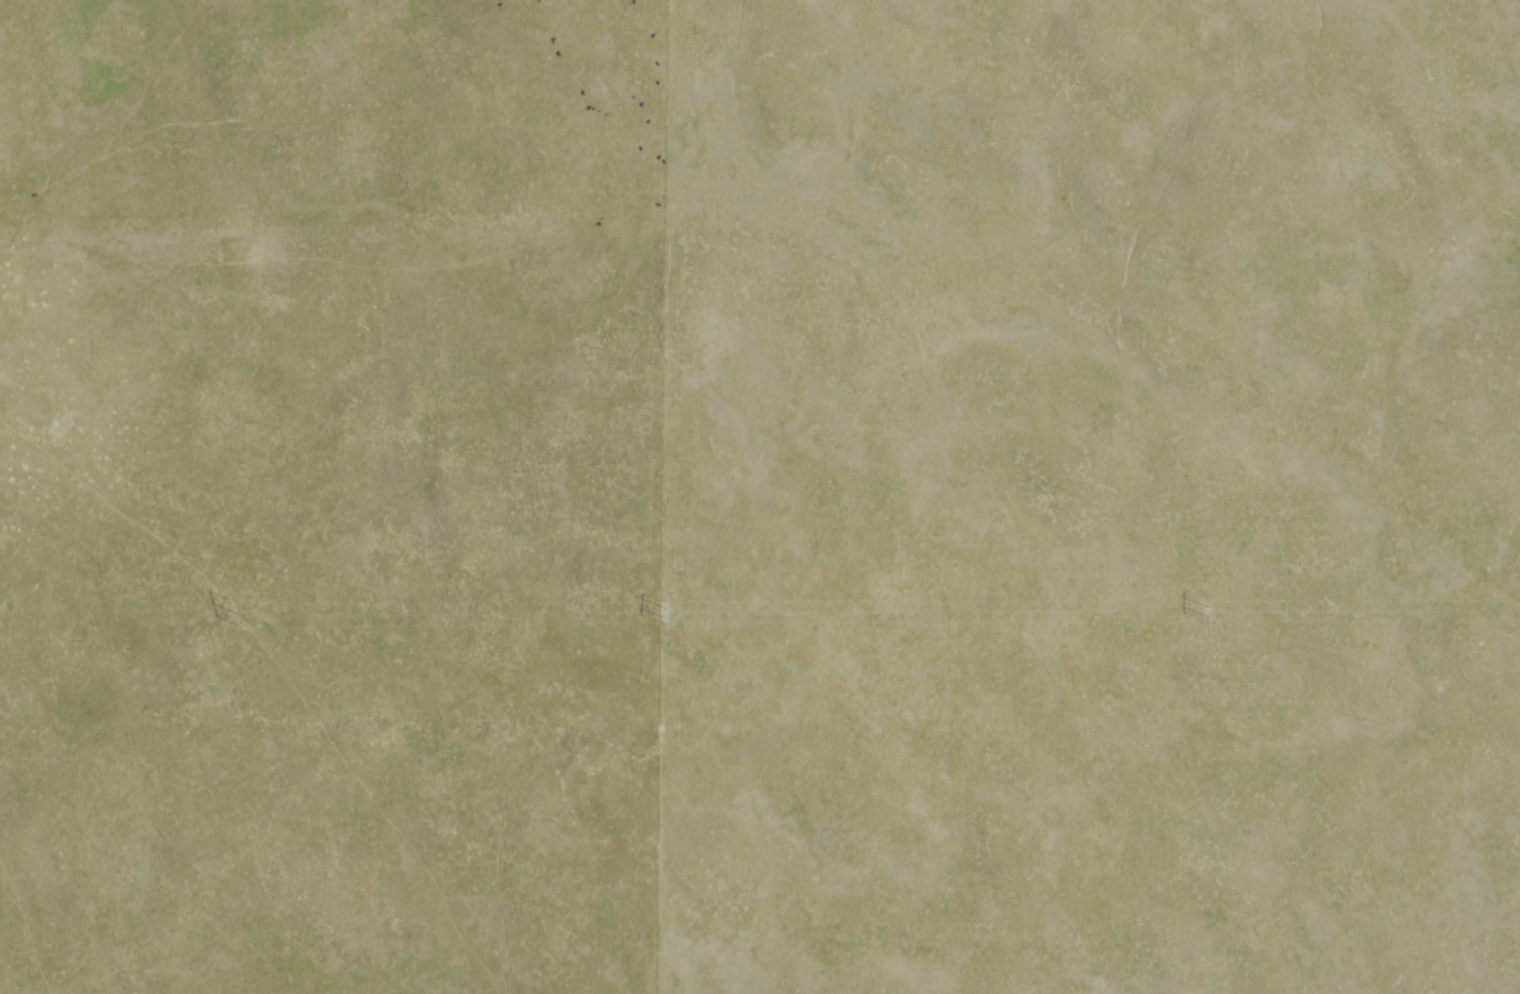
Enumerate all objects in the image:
power tower: (661, 613)
power tower: (1204, 613)
power tower: (233, 614)

